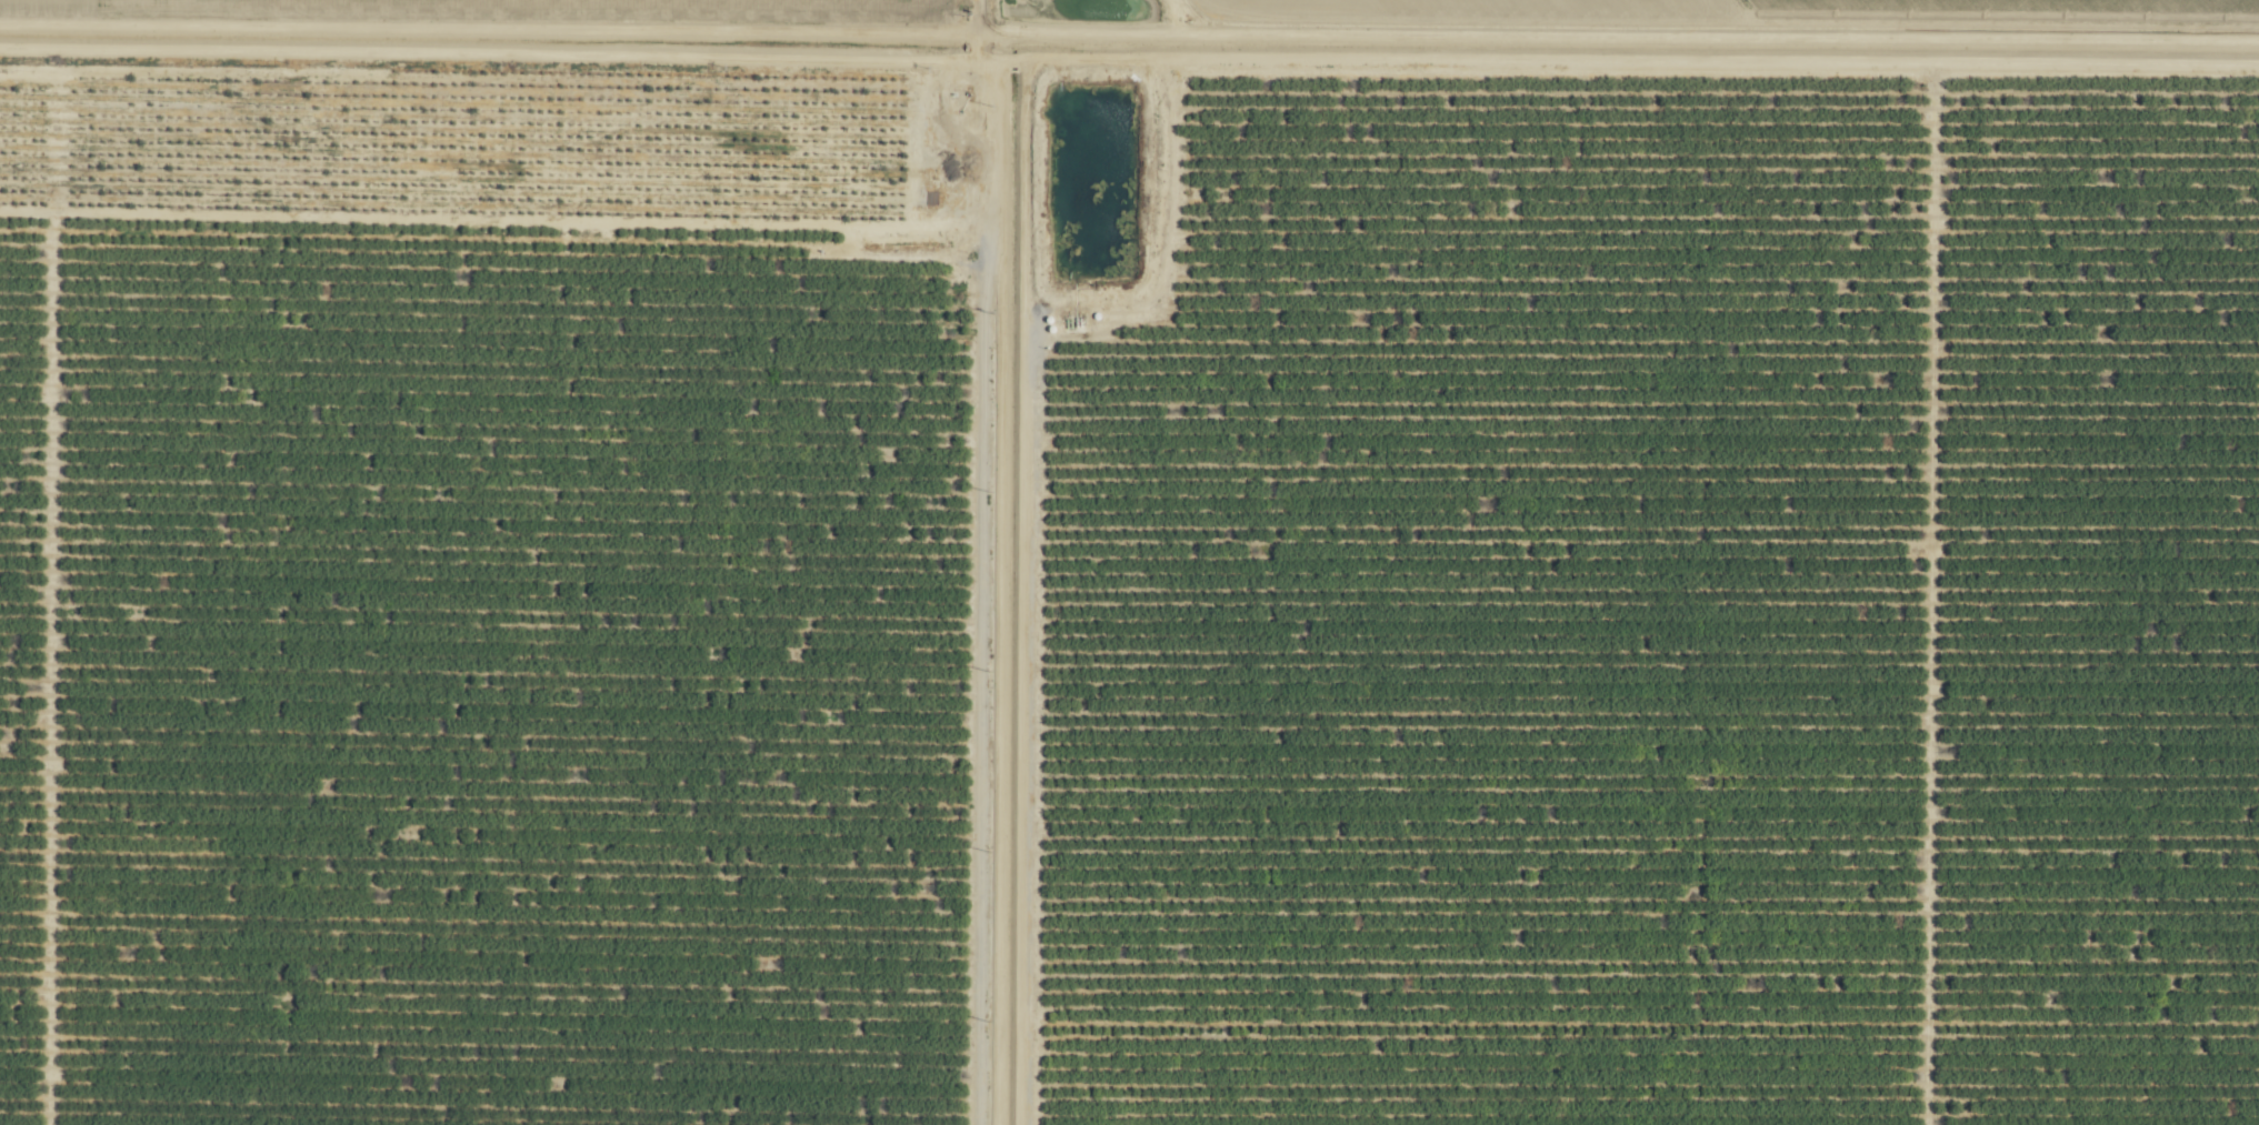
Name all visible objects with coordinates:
crop: (1129, 562)
road: (996, 593)

